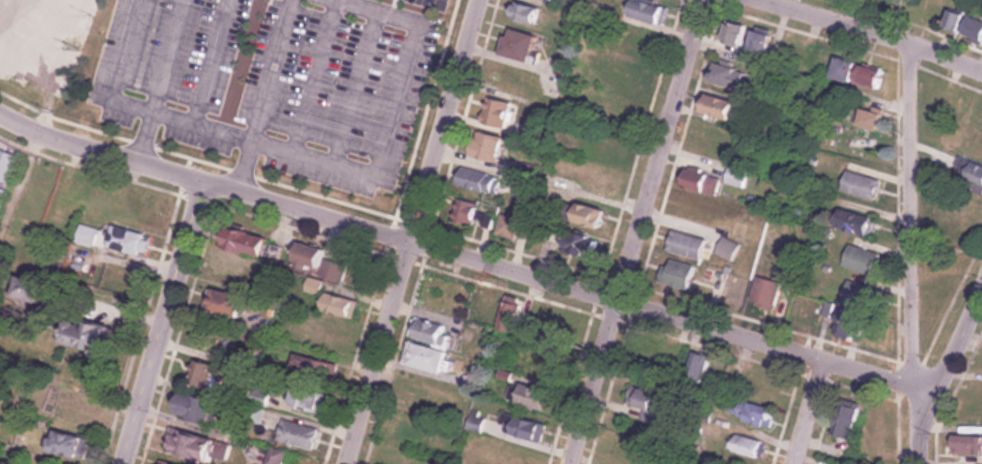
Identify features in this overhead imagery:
building: (645, 10)
building: (523, 13)
building: (952, 18)
building: (972, 27)
building: (731, 33)
road: (869, 34)
building: (24, 35)
building: (757, 40)
building: (516, 44)
building: (817, 59)
road: (208, 62)
building: (841, 67)
building: (722, 72)
building: (866, 75)
road: (312, 76)
building: (622, 76)
road: (161, 81)
parking lot: (273, 82)
road: (353, 86)
road: (262, 96)
building: (713, 103)
building: (496, 113)
building: (868, 118)
building: (485, 146)
road: (99, 152)
road: (306, 155)
building: (973, 167)
building: (735, 175)
building: (476, 180)
building: (698, 181)
building: (859, 184)
building: (2, 194)
building: (463, 212)
building: (586, 214)
road: (909, 221)
building: (851, 222)
building: (508, 223)
road: (412, 231)
road: (635, 232)
building: (86, 235)
building: (125, 241)
building: (242, 241)
building: (684, 243)
building: (576, 244)
building: (726, 248)
building: (273, 252)
building: (305, 255)
building: (859, 258)
building: (332, 269)
building: (675, 273)
building: (232, 275)
road: (564, 286)
building: (764, 290)
building: (222, 304)
building: (337, 305)
building: (484, 307)
building: (851, 310)
building: (507, 314)
road: (162, 323)
building: (331, 326)
building: (557, 328)
building: (429, 332)
building: (85, 335)
road: (957, 345)
building: (425, 357)
building: (696, 365)
building: (313, 368)
building: (202, 374)
building: (529, 396)
building: (305, 399)
building: (642, 403)
building: (194, 408)
building: (70, 410)
building: (748, 412)
road: (807, 413)
building: (862, 426)
building: (521, 427)
road: (924, 428)
building: (296, 435)
building: (66, 445)
building: (743, 445)
building: (966, 445)
building: (196, 447)
building: (161, 463)

